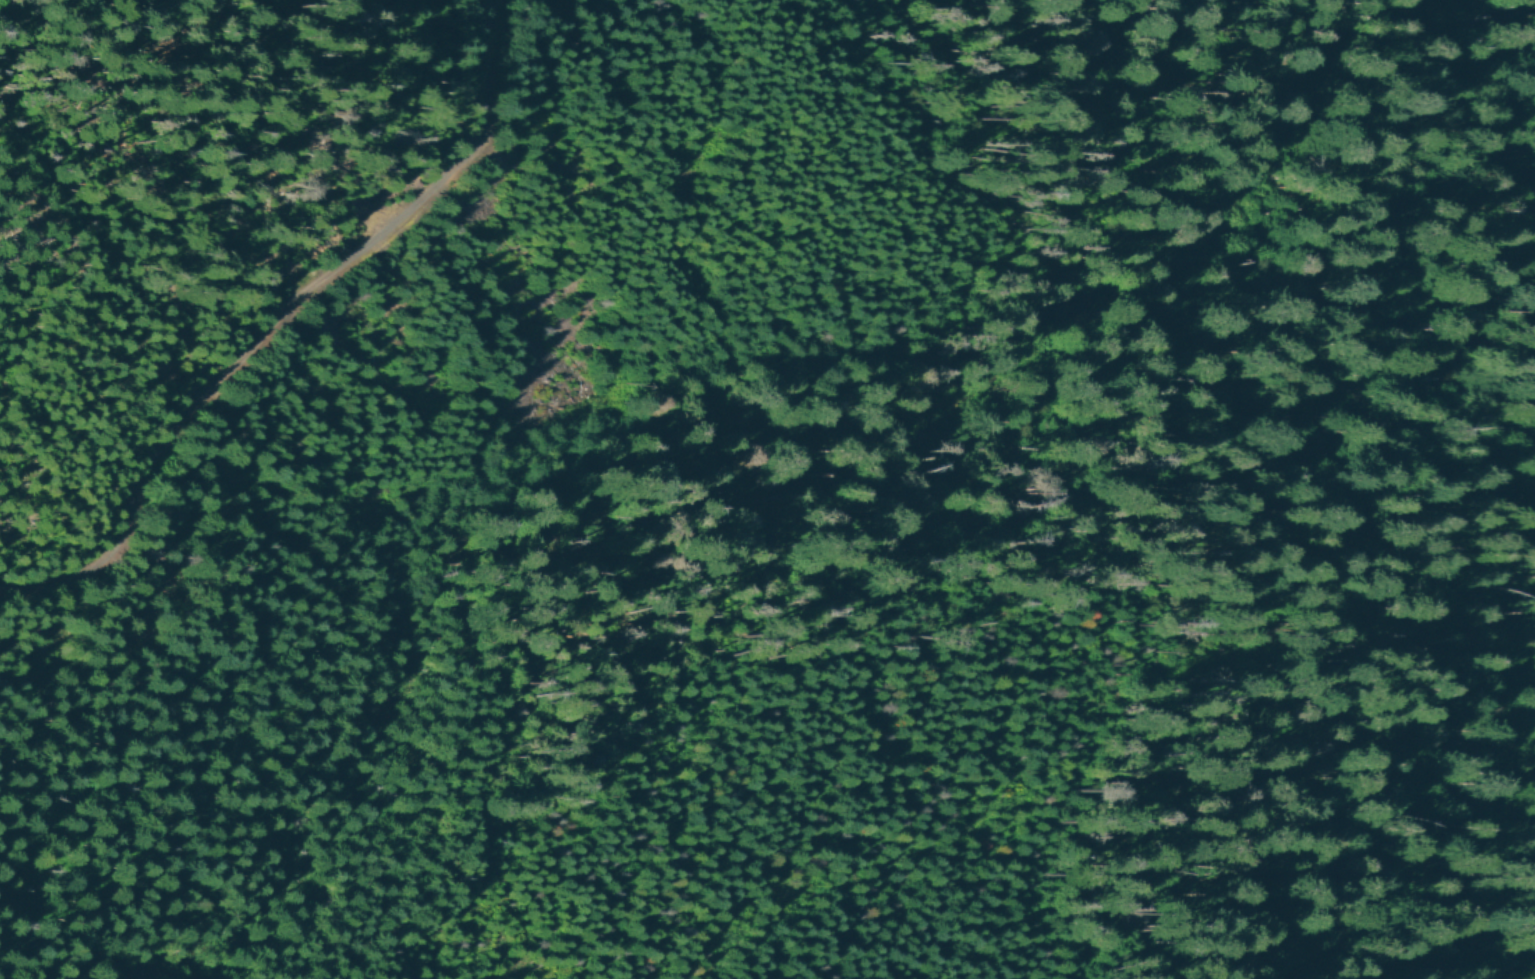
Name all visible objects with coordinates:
road: (277, 317)

